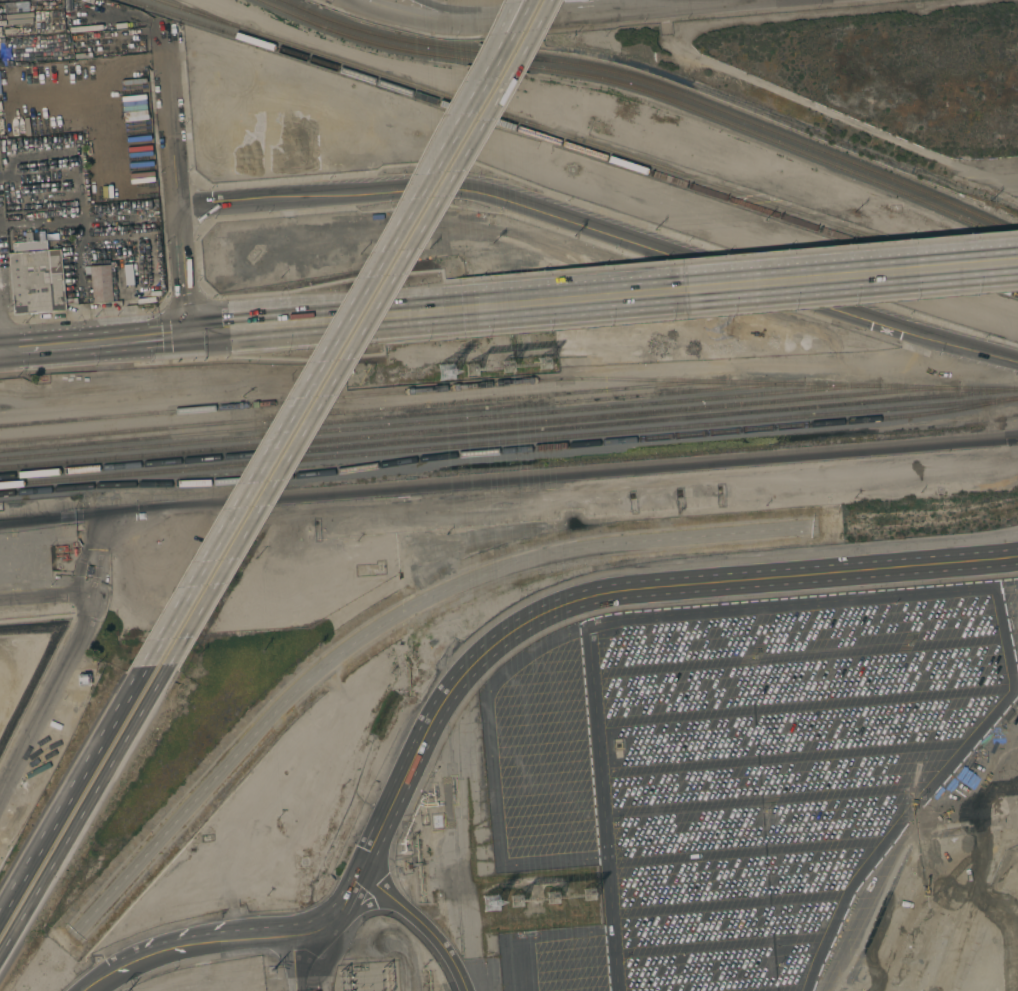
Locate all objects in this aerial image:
road: (347, 3)
road: (355, 3)
road: (614, 5)
road: (678, 5)
road: (446, 12)
railway: (213, 16)
road: (544, 18)
road: (512, 19)
road: (516, 19)
road: (414, 21)
road: (82, 67)
railway: (657, 85)
railway: (647, 92)
road: (171, 116)
railway: (587, 142)
railway: (573, 147)
road: (605, 230)
road: (186, 271)
road: (794, 279)
building: (37, 281)
building: (100, 283)
road: (381, 316)
road: (358, 333)
traffic signals: (192, 334)
road: (96, 341)
road: (0, 343)
road: (0, 349)
road: (324, 353)
power tower: (543, 365)
power tower: (508, 367)
power tower: (473, 370)
power tower: (449, 372)
railway: (508, 383)
railway: (362, 410)
railway: (400, 416)
railway: (439, 421)
railway: (478, 427)
railway: (508, 433)
railway: (508, 442)
railway: (509, 451)
railway: (270, 478)
road: (509, 479)
building: (88, 570)
storage tank: (88, 570)
road: (595, 596)
road: (44, 601)
road: (64, 657)
road: (71, 790)
road: (83, 809)
power tower: (590, 895)
power tower: (551, 899)
power tower: (516, 902)
power tower: (491, 904)
road: (422, 924)
road: (225, 938)
road: (291, 962)
power substation: (367, 977)
road: (95, 982)
road: (101, 982)

